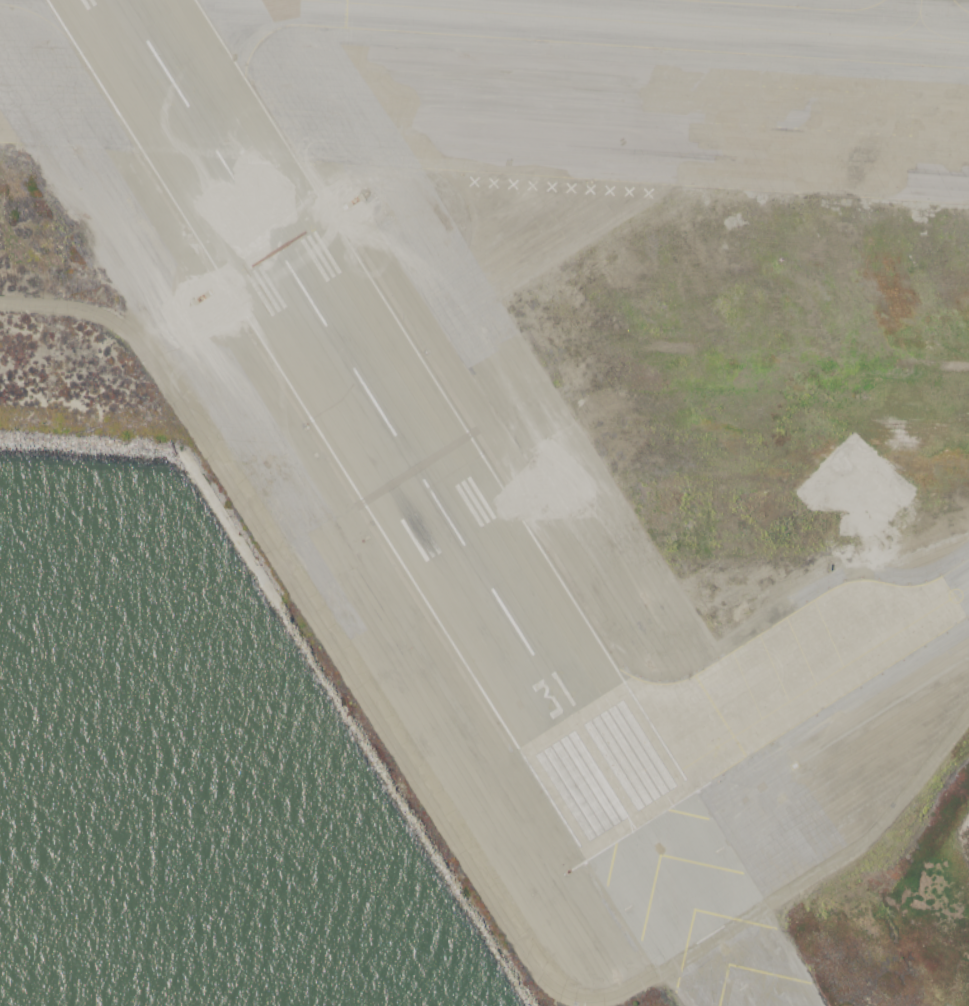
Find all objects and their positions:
road: (447, 820)

